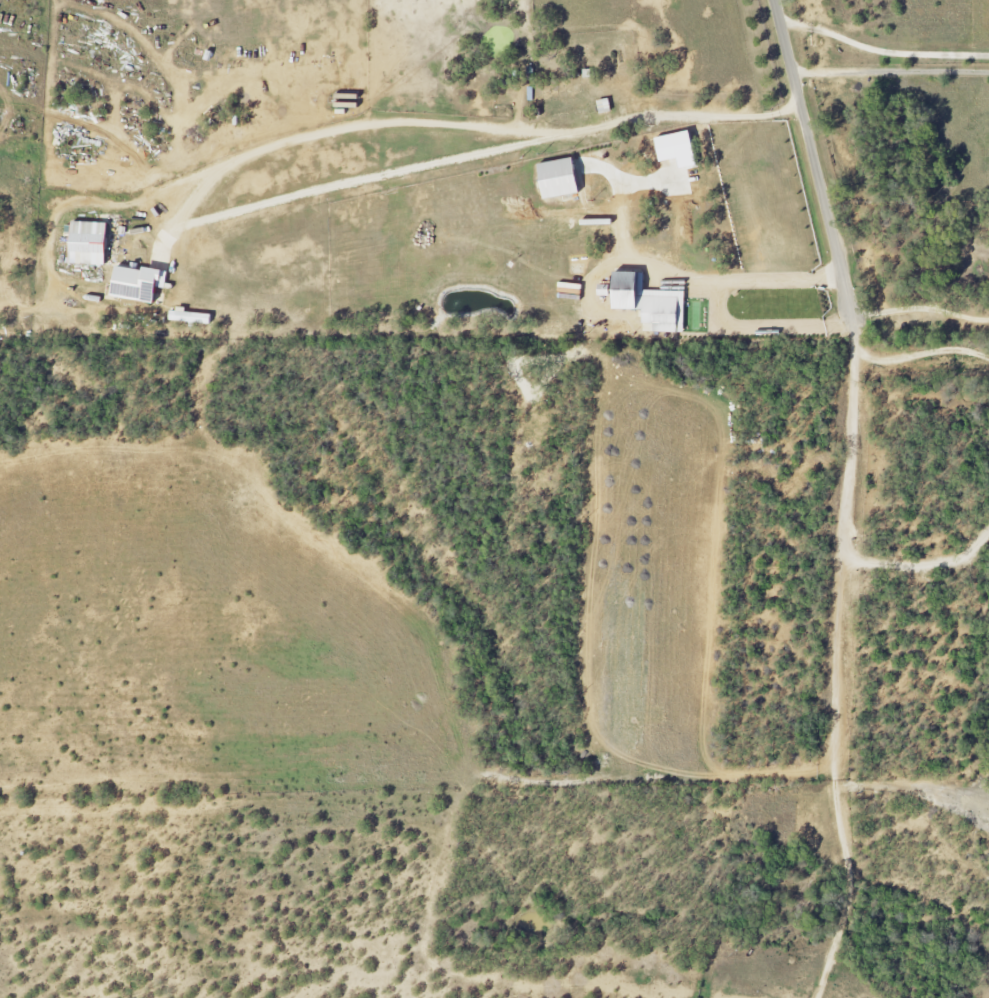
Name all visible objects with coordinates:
road: (882, 50)
road: (891, 73)
building: (605, 106)
road: (284, 143)
road: (815, 158)
building: (561, 179)
road: (623, 233)
building: (90, 243)
building: (138, 284)
building: (651, 303)
road: (700, 308)
road: (921, 308)
building: (189, 317)
road: (919, 353)
road: (920, 563)
road: (835, 661)

